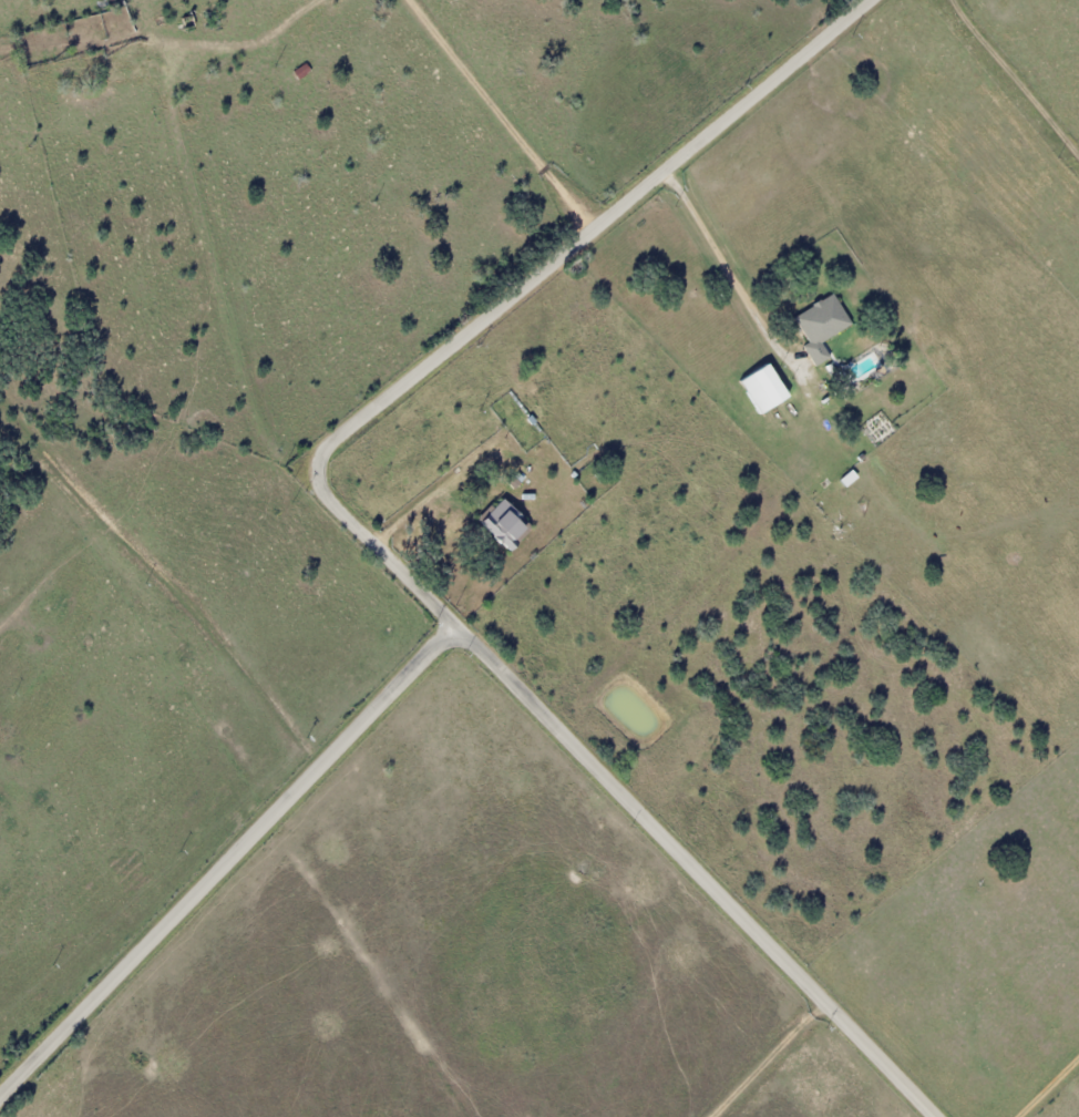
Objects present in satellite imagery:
road: (590, 232)
building: (820, 326)
building: (760, 388)
building: (502, 524)
road: (415, 575)
road: (474, 639)

